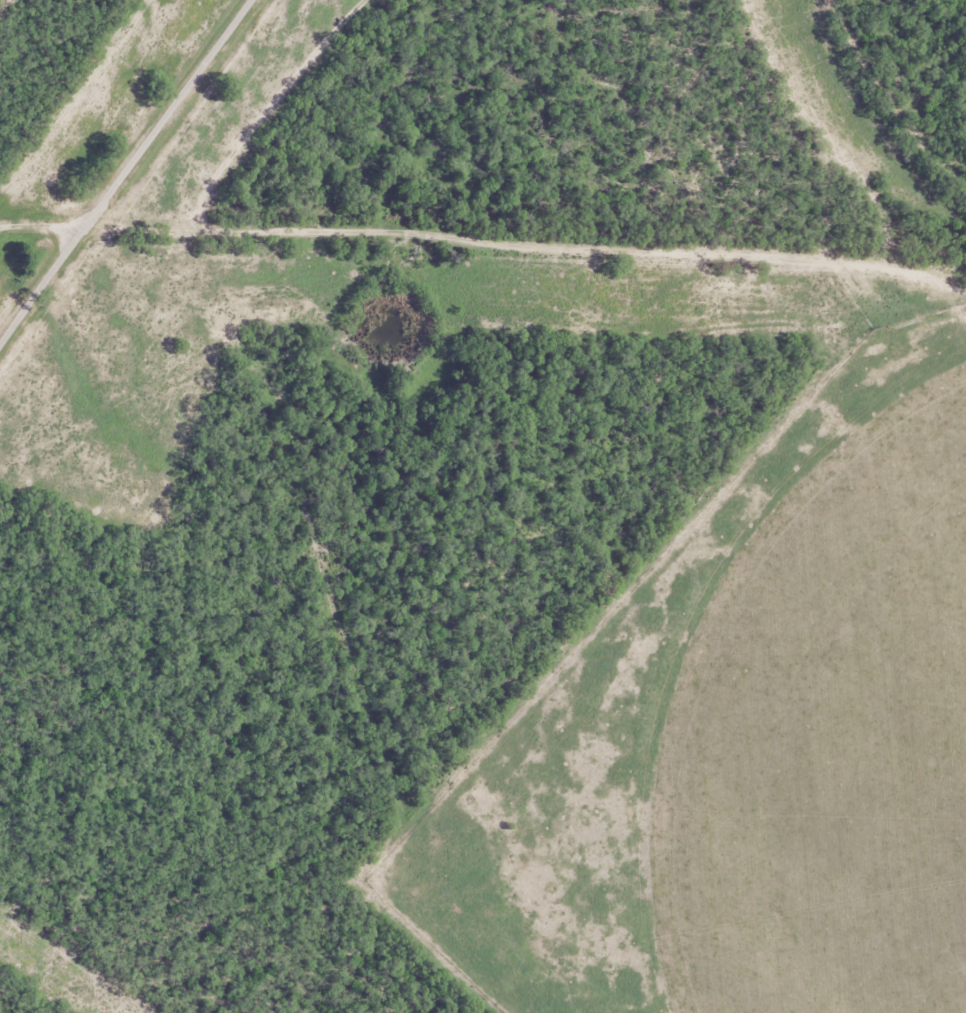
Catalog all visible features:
road: (180, 7)
road: (137, 133)
road: (459, 261)

